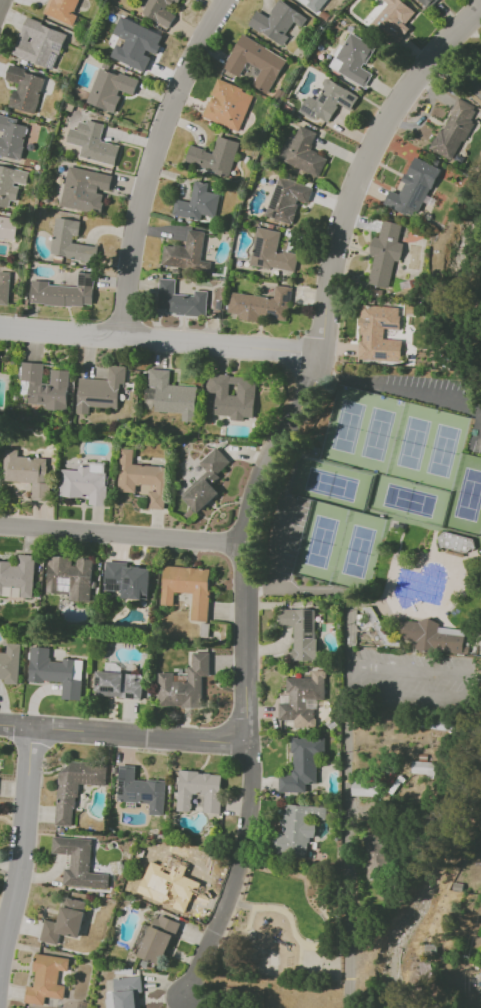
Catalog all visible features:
building: (177, 0)
building: (312, 0)
building: (433, 2)
road: (3, 6)
building: (63, 10)
building: (156, 11)
building: (396, 11)
building: (276, 23)
building: (41, 43)
rooftop solar panel: (56, 44)
building: (136, 46)
rooftop solar panel: (51, 61)
building: (356, 61)
building: (255, 62)
building: (116, 83)
building: (22, 88)
building: (478, 91)
building: (329, 101)
building: (229, 106)
building: (454, 126)
building: (12, 137)
building: (94, 143)
building: (304, 152)
building: (215, 158)
road: (157, 161)
building: (12, 186)
building: (83, 188)
building: (418, 188)
rooftop solar panel: (275, 193)
building: (288, 199)
building: (199, 206)
building: (8, 228)
rooftop solar panel: (260, 236)
building: (67, 240)
rooftop solar panel: (258, 251)
building: (185, 253)
building: (272, 253)
building: (385, 253)
rooftop solar panel: (262, 261)
building: (5, 285)
building: (66, 292)
building: (178, 301)
building: (261, 306)
rooftop solar panel: (273, 313)
rooftop solar panel: (390, 325)
building: (379, 333)
road: (159, 339)
rooftop solar panel: (381, 355)
road: (318, 358)
building: (44, 387)
building: (102, 389)
road: (403, 389)
building: (172, 395)
building: (232, 395)
parking lot: (425, 397)
park: (347, 425)
park: (380, 431)
park: (411, 441)
park: (443, 450)
building: (216, 463)
building: (29, 471)
building: (143, 478)
park: (333, 482)
building: (86, 483)
building: (200, 498)
park: (465, 500)
park: (407, 502)
parking lot: (290, 531)
road: (123, 532)
road: (279, 538)
park: (322, 538)
building: (456, 542)
road: (295, 549)
park: (358, 554)
building: (20, 576)
building: (69, 580)
building: (129, 581)
rooftop solar panel: (129, 581)
rooftop solar panel: (115, 584)
rooftop solar panel: (128, 587)
building: (189, 588)
rooftop solar panel: (309, 620)
building: (302, 634)
rooftop solar panel: (309, 636)
building: (434, 636)
building: (10, 664)
building: (57, 672)
parking lot: (416, 679)
rooftop solar panel: (99, 681)
road: (464, 683)
building: (121, 684)
building: (185, 684)
rooftop solar panel: (109, 690)
building: (307, 701)
road: (122, 733)
road: (346, 747)
building: (0, 762)
building: (303, 765)
building: (423, 767)
rooftop solar panel: (123, 774)
rooftop solar panel: (121, 787)
building: (364, 789)
building: (74, 790)
building: (142, 791)
building: (200, 792)
rooftop solar panel: (148, 795)
building: (296, 831)
road: (21, 841)
building: (375, 854)
building: (80, 863)
road: (236, 874)
building: (180, 876)
road: (288, 917)
road: (248, 918)
building: (63, 922)
park: (284, 922)
building: (159, 940)
road: (299, 957)
building: (402, 967)
building: (480, 974)
building: (47, 979)
building: (130, 991)

